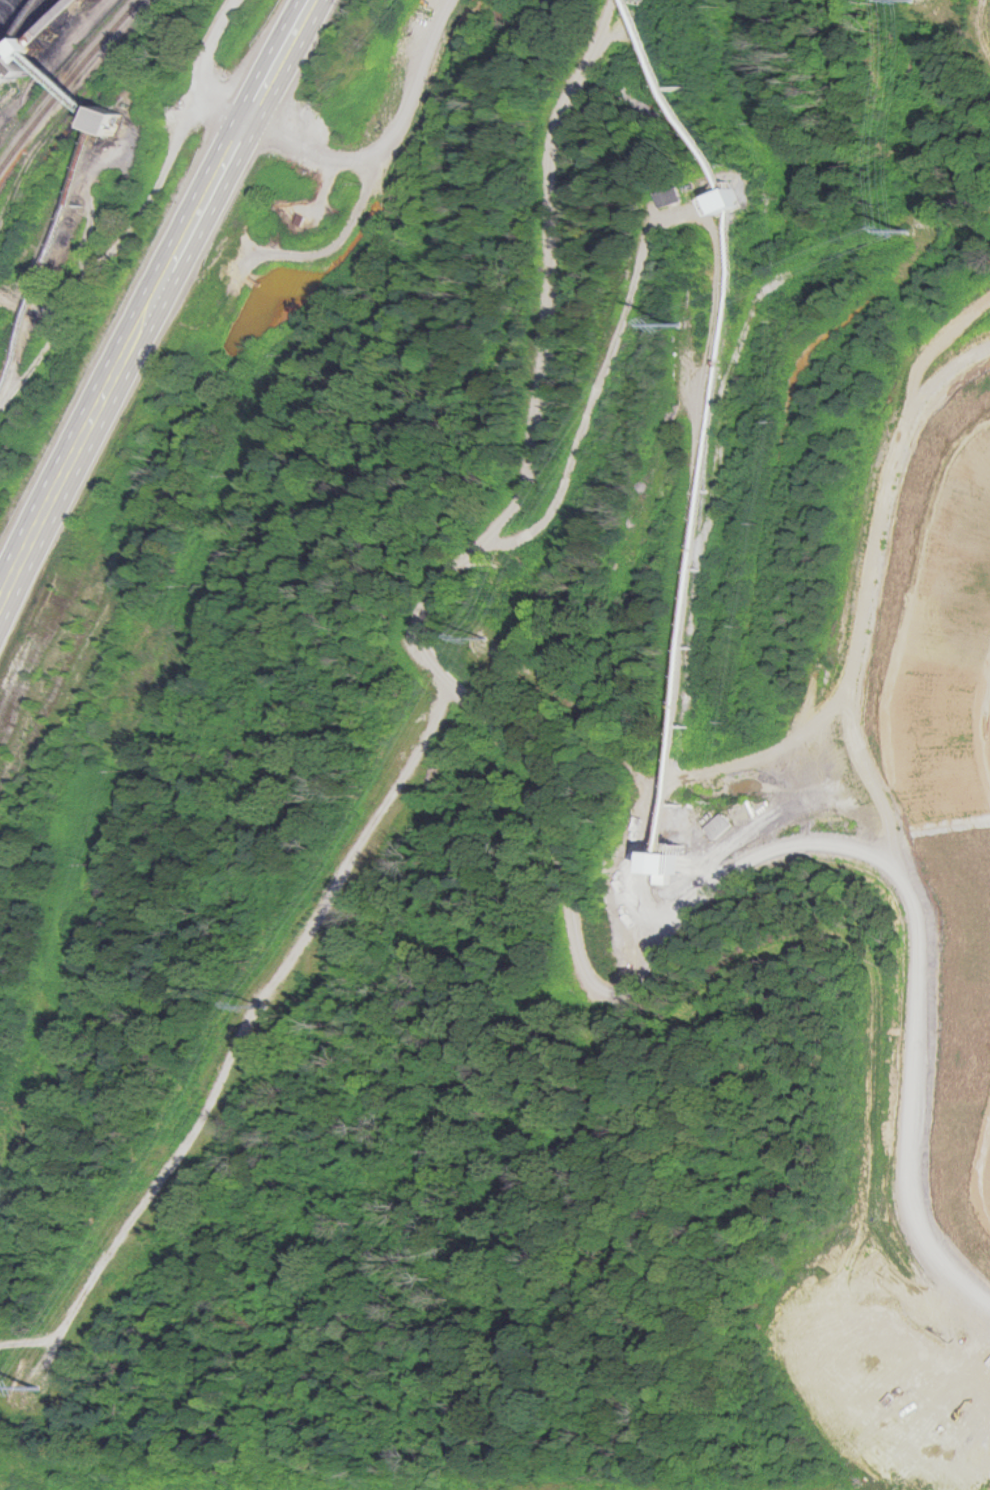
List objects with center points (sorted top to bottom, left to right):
road: (981, 28)
railway: (66, 82)
building: (130, 120)
road: (382, 141)
road: (155, 295)
road: (937, 347)
road: (863, 610)
road: (626, 773)
quarry: (647, 914)
road: (52, 1338)

